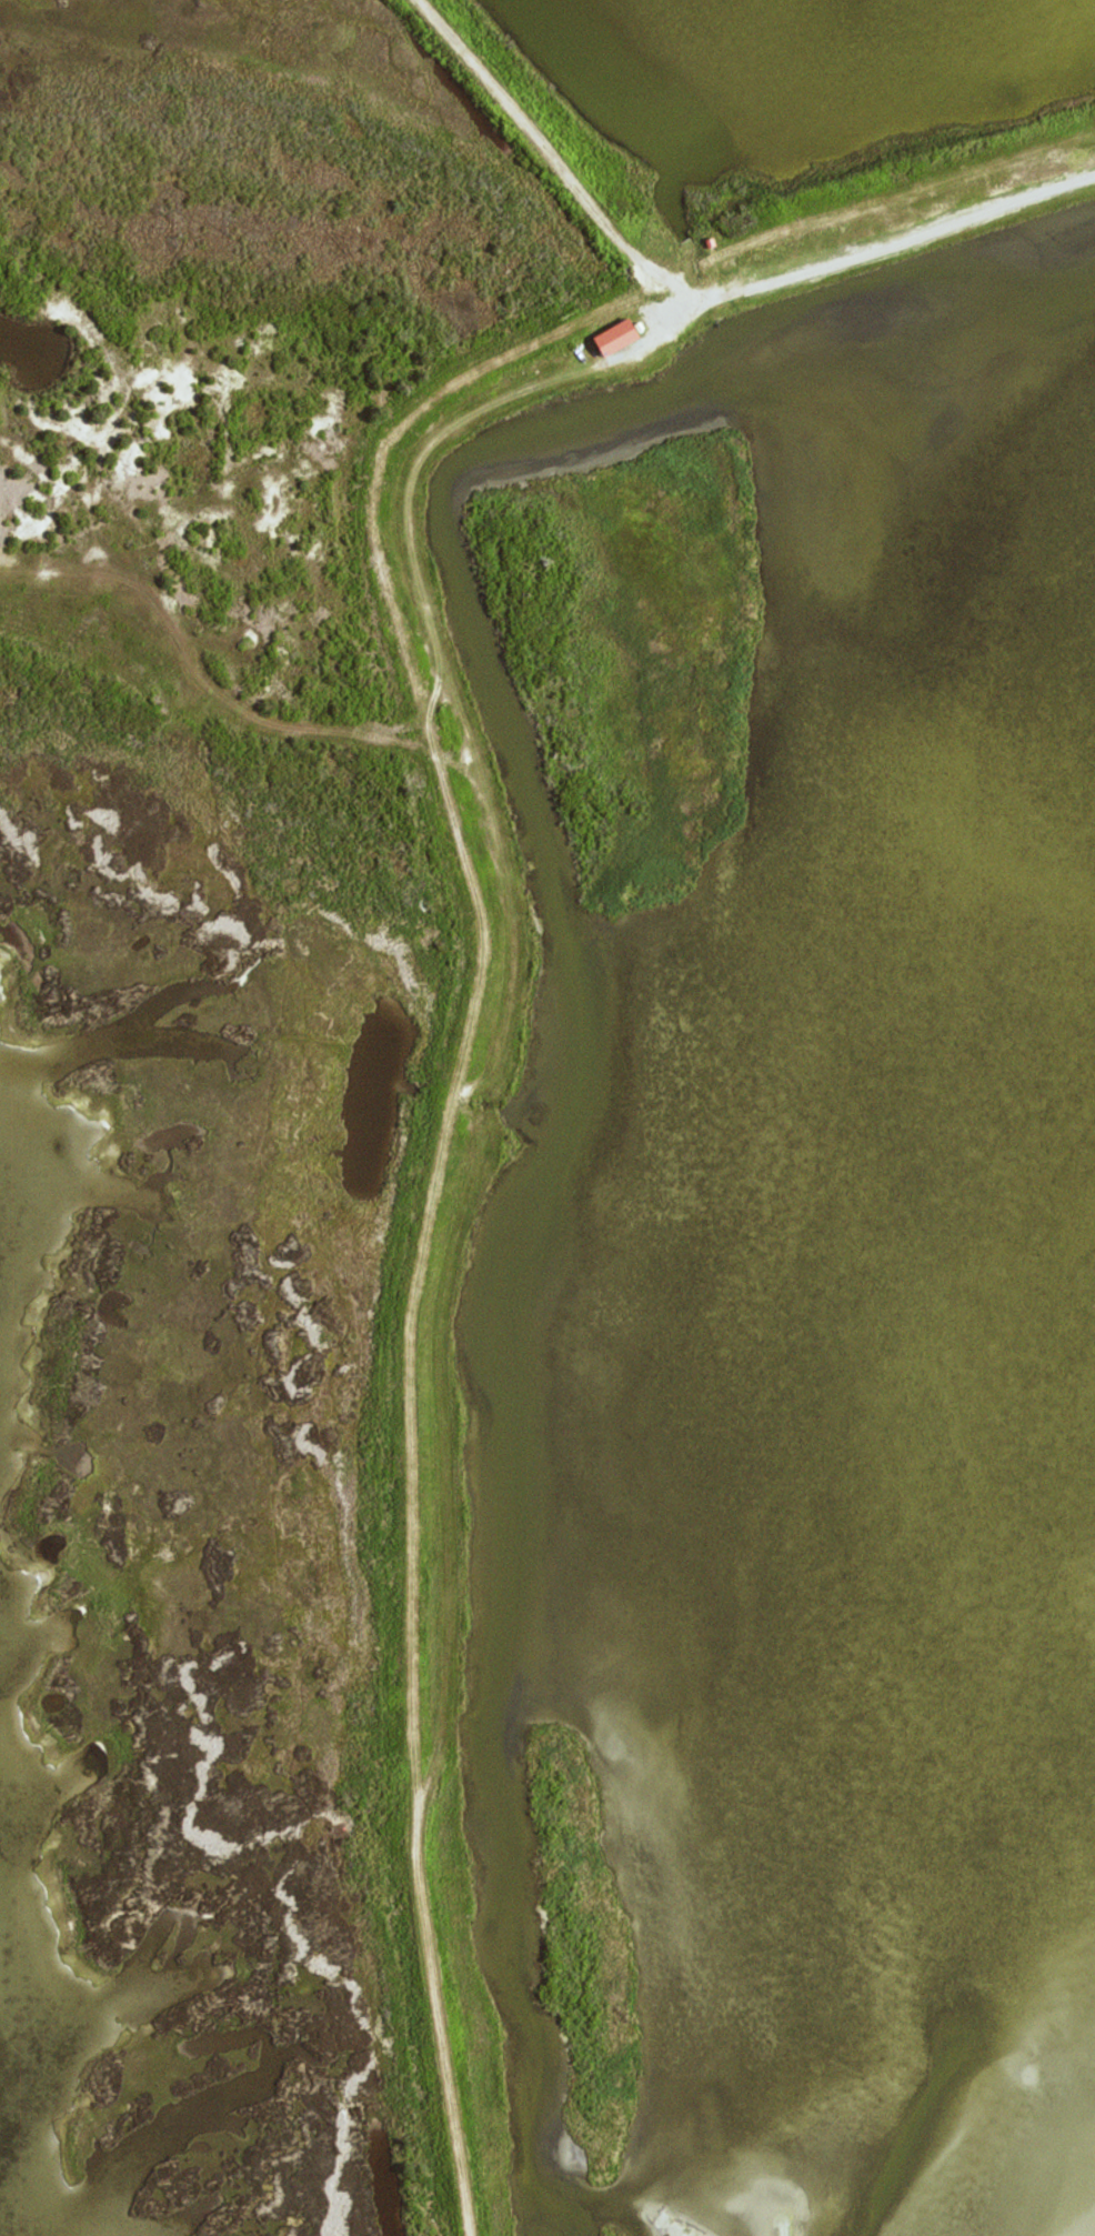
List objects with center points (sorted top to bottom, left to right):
road: (555, 158)
building: (639, 325)
building: (617, 338)
building: (580, 350)
road: (199, 671)
road: (482, 952)

